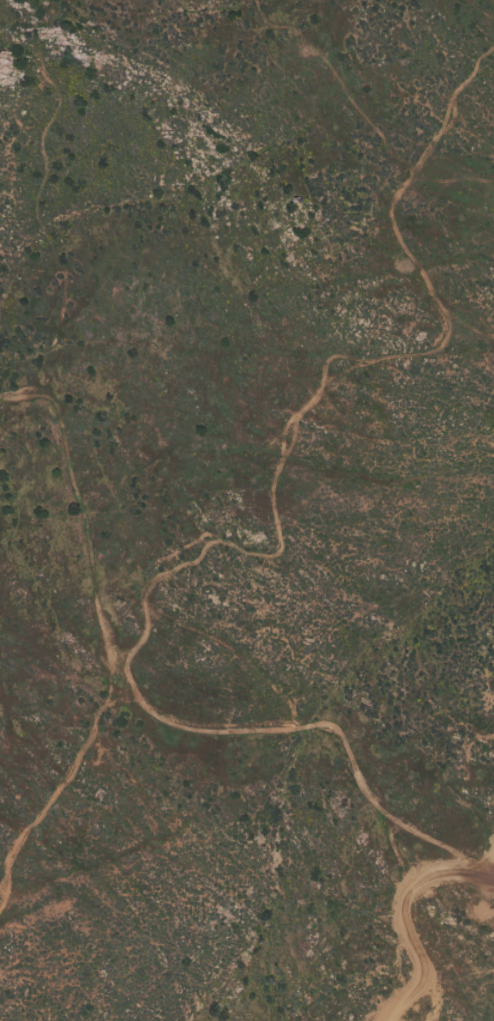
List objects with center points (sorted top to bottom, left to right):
road: (100, 519)
road: (210, 729)
road: (420, 929)

